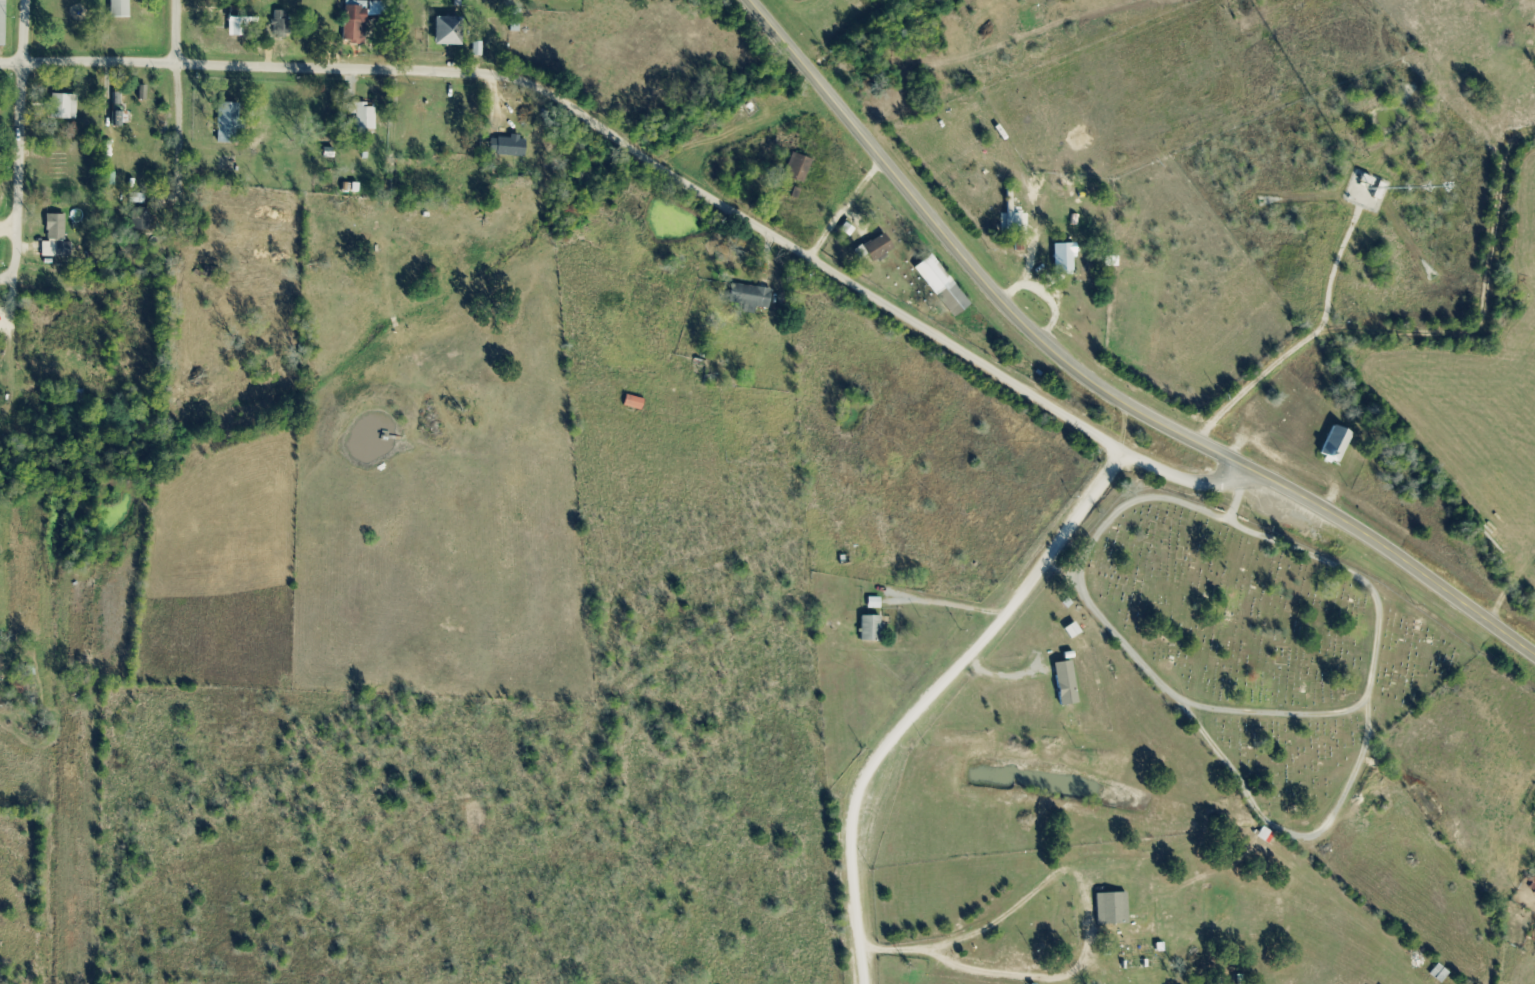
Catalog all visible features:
building: (124, 9)
building: (4, 23)
building: (353, 23)
building: (280, 25)
building: (446, 30)
road: (177, 93)
building: (66, 107)
building: (220, 111)
building: (362, 115)
building: (505, 145)
road: (656, 163)
building: (796, 168)
road: (18, 176)
building: (1367, 190)
building: (0, 201)
road: (845, 208)
building: (59, 227)
building: (877, 248)
building: (52, 249)
road: (203, 249)
building: (1062, 259)
road: (7, 279)
building: (748, 296)
road: (1303, 339)
road: (1094, 384)
building: (632, 402)
building: (1333, 444)
railway: (62, 492)
road: (1239, 493)
road: (1082, 565)
building: (870, 628)
road: (1374, 655)
building: (1064, 683)
park: (1293, 698)
road: (933, 699)
road: (1292, 837)
building: (1532, 887)
building: (1109, 908)
building: (1141, 956)

